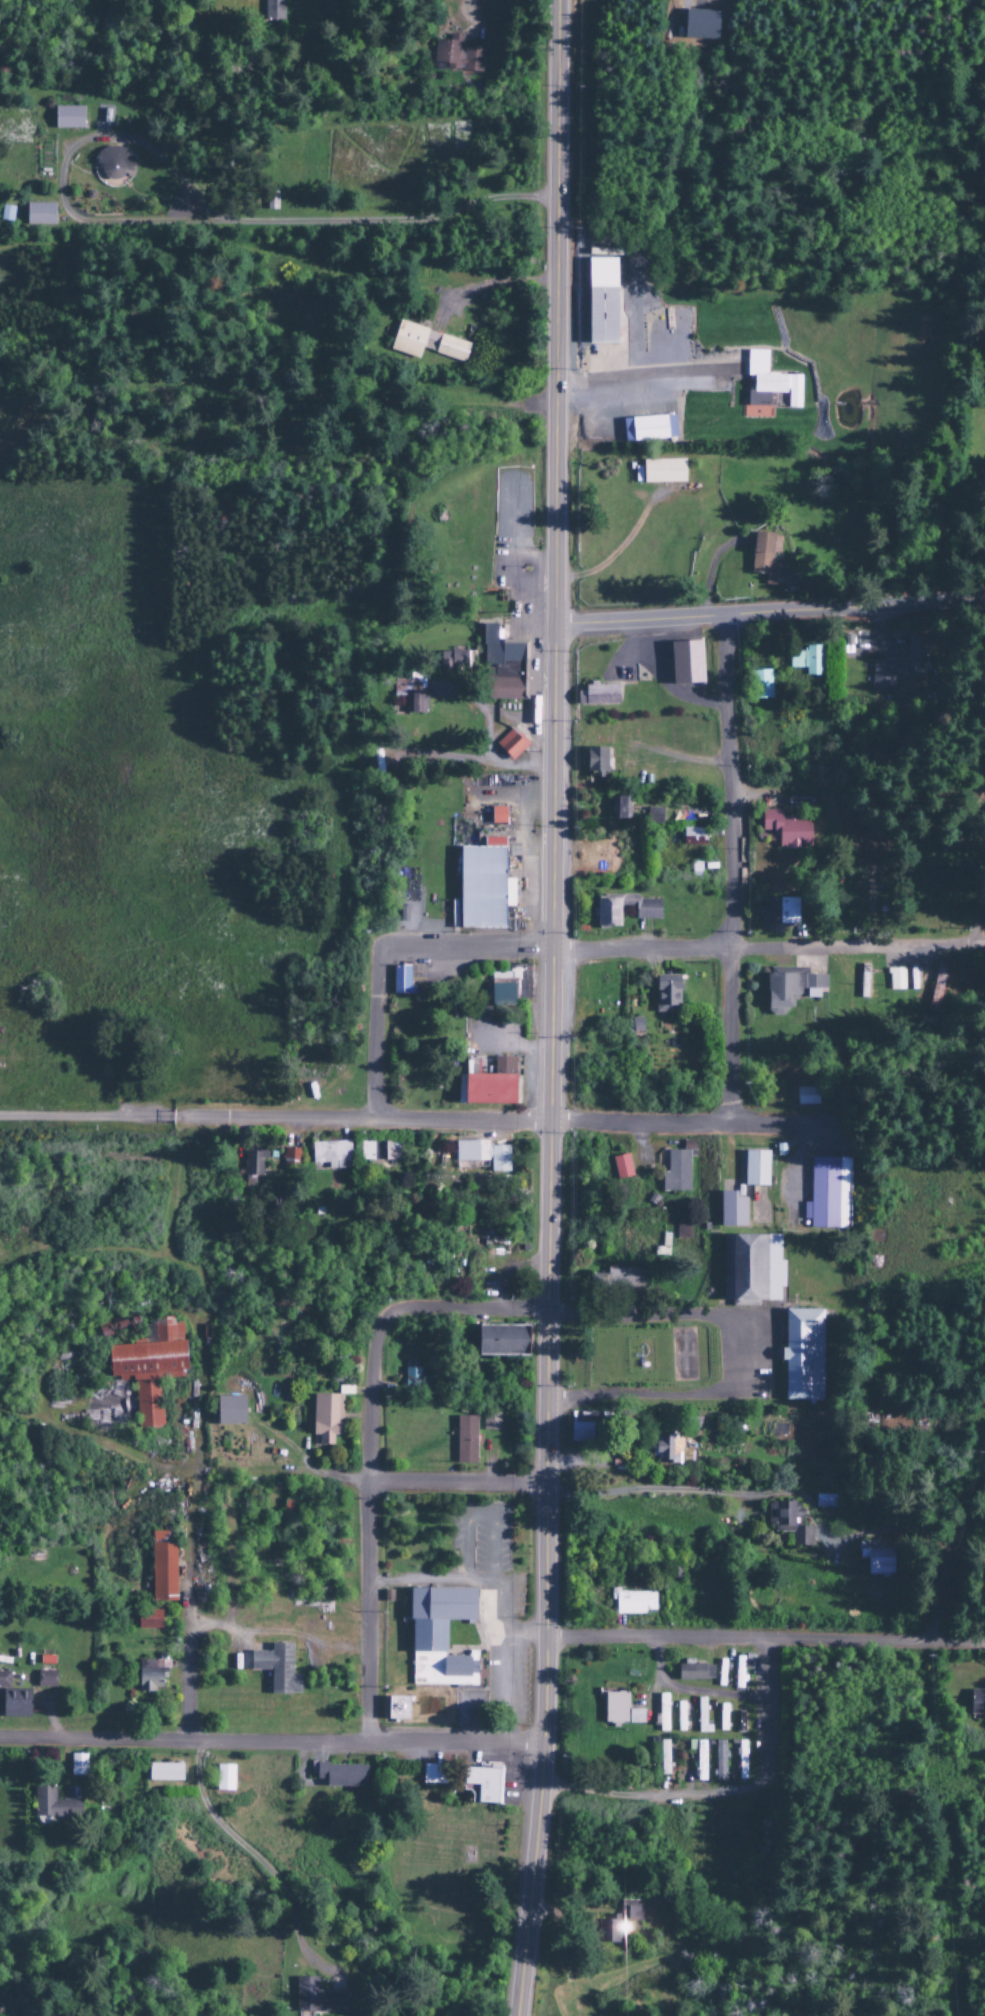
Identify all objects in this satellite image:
building: (272, 11)
building: (700, 25)
building: (458, 55)
road: (556, 103)
building: (67, 118)
building: (113, 166)
building: (5, 215)
building: (38, 215)
road: (186, 220)
building: (602, 302)
building: (426, 344)
road: (645, 380)
building: (769, 384)
building: (648, 430)
building: (662, 472)
parking lot: (511, 536)
building: (765, 560)
road: (769, 617)
building: (916, 650)
building: (806, 660)
building: (453, 661)
building: (685, 663)
building: (502, 666)
building: (885, 674)
building: (761, 685)
building: (410, 693)
building: (598, 695)
building: (510, 745)
building: (595, 760)
building: (618, 808)
building: (497, 816)
building: (654, 816)
building: (786, 830)
building: (693, 837)
building: (859, 841)
road: (732, 873)
building: (479, 887)
building: (779, 911)
building: (605, 913)
road: (984, 937)
road: (682, 956)
parking lot: (418, 976)
building: (895, 980)
building: (399, 981)
building: (505, 987)
building: (936, 989)
building: (790, 990)
building: (666, 994)
road: (380, 1034)
building: (502, 1067)
building: (484, 1086)
building: (806, 1097)
road: (550, 1111)
road: (430, 1122)
building: (378, 1153)
building: (330, 1155)
building: (482, 1155)
building: (291, 1158)
building: (253, 1161)
building: (621, 1167)
building: (677, 1169)
building: (755, 1169)
building: (827, 1194)
building: (731, 1211)
building: (662, 1247)
building: (750, 1270)
building: (625, 1277)
road: (470, 1312)
road: (653, 1316)
building: (500, 1341)
park: (682, 1355)
building: (801, 1355)
building: (149, 1369)
building: (412, 1377)
road: (688, 1396)
building: (228, 1411)
building: (325, 1419)
building: (490, 1422)
building: (580, 1433)
building: (465, 1441)
building: (665, 1449)
road: (456, 1484)
road: (731, 1494)
building: (825, 1502)
building: (788, 1523)
road: (367, 1526)
building: (876, 1557)
building: (161, 1569)
road: (428, 1584)
building: (633, 1603)
parking lot: (498, 1613)
building: (148, 1620)
road: (524, 1633)
road: (277, 1637)
building: (438, 1638)
road: (765, 1639)
road: (503, 1642)
building: (276, 1670)
building: (693, 1672)
building: (741, 1673)
building: (149, 1676)
building: (45, 1680)
road: (190, 1687)
road: (692, 1692)
building: (12, 1701)
building: (977, 1703)
building: (396, 1709)
building: (620, 1711)
road: (765, 1712)
building: (663, 1713)
building: (680, 1717)
building: (702, 1718)
building: (722, 1718)
building: (741, 1722)
road: (271, 1743)
building: (663, 1759)
building: (699, 1759)
building: (719, 1761)
building: (741, 1761)
building: (77, 1766)
building: (164, 1773)
building: (340, 1776)
building: (432, 1776)
building: (224, 1779)
building: (480, 1785)
road: (650, 1796)
building: (53, 1806)
road: (246, 1852)
building: (617, 1920)
building: (316, 1998)

